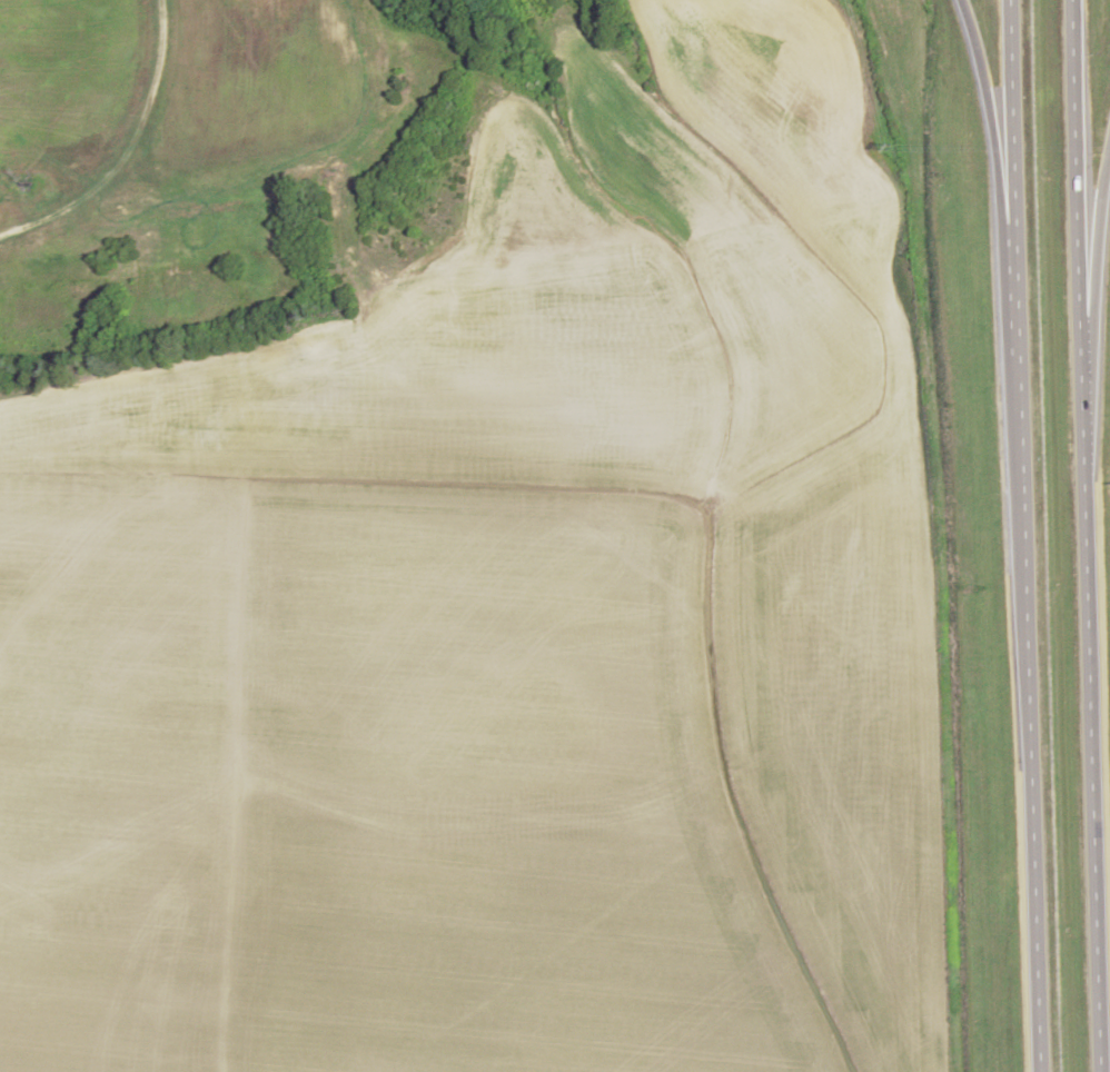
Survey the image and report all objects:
road: (1003, 209)
road: (1015, 211)
road: (1079, 216)
road: (1096, 288)
road: (1031, 747)
road: (1092, 752)

